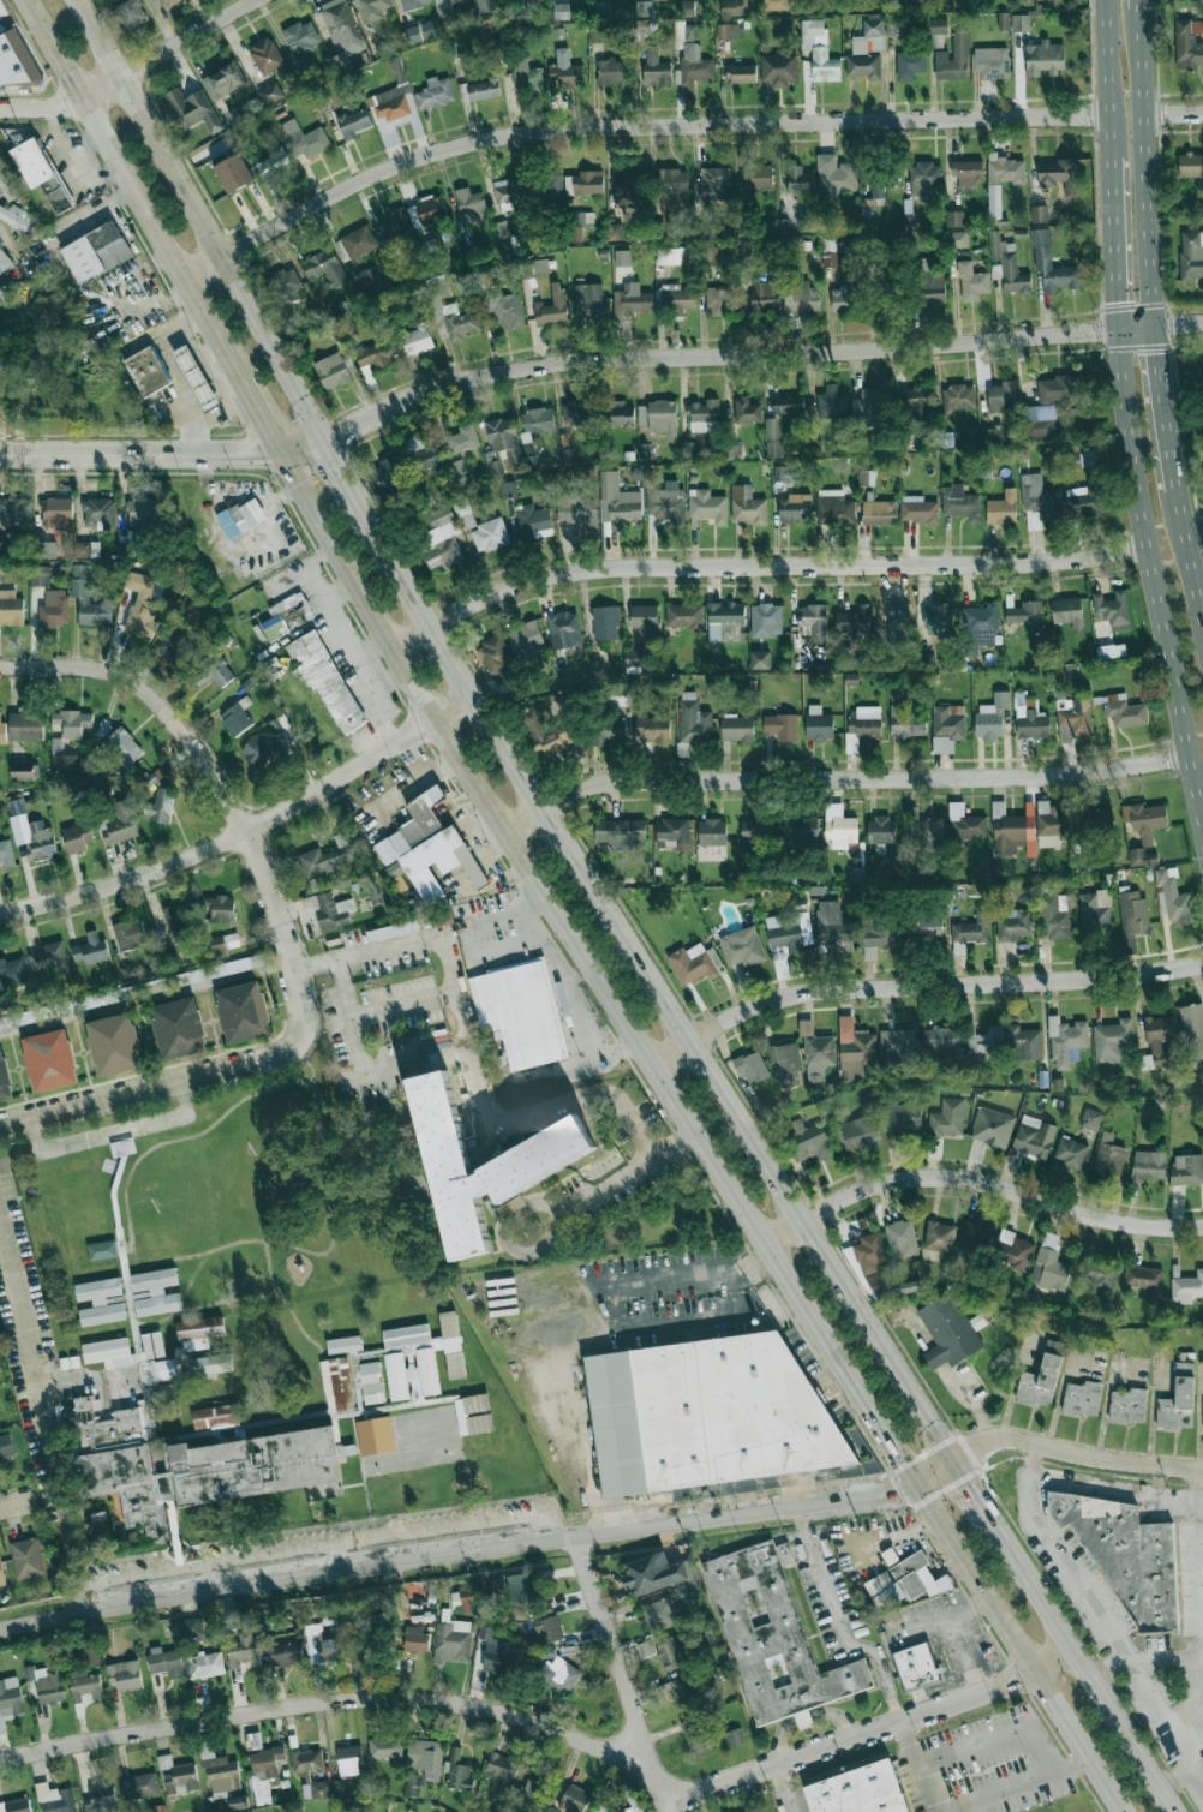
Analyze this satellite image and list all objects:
building: (1036, 0)
building: (454, 1)
building: (168, 2)
building: (414, 4)
building: (774, 5)
building: (732, 6)
building: (687, 7)
building: (372, 8)
building: (645, 8)
building: (562, 11)
building: (131, 12)
building: (484, 12)
building: (1004, 20)
building: (1021, 23)
building: (341, 24)
building: (938, 26)
building: (430, 29)
building: (728, 31)
building: (690, 32)
building: (413, 34)
building: (595, 34)
building: (301, 37)
building: (1189, 44)
building: (819, 50)
building: (867, 50)
building: (267, 55)
building: (953, 59)
building: (1043, 59)
building: (14, 60)
building: (341, 61)
building: (992, 61)
building: (695, 64)
building: (910, 65)
road: (133, 68)
building: (564, 68)
building: (656, 68)
building: (779, 68)
building: (611, 71)
building: (741, 73)
road: (1108, 77)
building: (528, 79)
building: (223, 80)
building: (483, 89)
building: (270, 92)
building: (435, 94)
road: (1126, 94)
building: (395, 101)
building: (193, 109)
road: (1173, 113)
building: (353, 122)
road: (629, 126)
road: (1127, 137)
building: (304, 139)
road: (70, 145)
road: (1145, 162)
building: (1191, 166)
building: (269, 167)
building: (40, 171)
building: (234, 173)
building: (968, 173)
building: (834, 175)
building: (1058, 175)
building: (758, 177)
building: (924, 178)
building: (800, 179)
building: (1001, 179)
building: (672, 180)
building: (714, 184)
building: (551, 185)
building: (6, 187)
road: (134, 189)
building: (508, 189)
building: (628, 189)
building: (878, 190)
building: (469, 204)
building: (869, 204)
building: (431, 209)
road: (92, 211)
building: (1039, 214)
building: (14, 215)
road: (200, 217)
building: (954, 219)
building: (395, 223)
building: (783, 226)
building: (616, 231)
building: (958, 239)
building: (358, 241)
road: (1114, 241)
road: (5, 244)
building: (95, 251)
building: (1191, 255)
building: (671, 256)
building: (710, 256)
building: (622, 257)
building: (831, 257)
building: (4, 259)
building: (1052, 264)
building: (1009, 265)
building: (325, 268)
building: (532, 268)
building: (367, 280)
building: (972, 282)
building: (286, 285)
building: (933, 288)
building: (886, 293)
building: (4, 294)
building: (765, 297)
building: (802, 298)
building: (846, 298)
building: (678, 299)
building: (592, 300)
building: (633, 300)
building: (726, 300)
building: (552, 305)
building: (53, 311)
building: (507, 311)
building: (450, 312)
traffic signals: (1154, 325)
traffic signals: (1118, 329)
building: (418, 339)
building: (375, 353)
road: (756, 353)
building: (333, 370)
building: (146, 371)
building: (197, 377)
building: (1057, 388)
building: (1001, 395)
building: (959, 397)
building: (832, 402)
building: (917, 403)
building: (789, 405)
building: (869, 406)
building: (746, 409)
building: (577, 411)
road: (261, 414)
building: (617, 414)
building: (704, 415)
building: (663, 418)
building: (538, 419)
building: (1041, 419)
road: (1163, 419)
traffic signals: (323, 436)
building: (773, 437)
building: (462, 438)
building: (504, 438)
building: (527, 443)
building: (692, 444)
traffic signals: (281, 450)
building: (732, 451)
road: (162, 456)
building: (1078, 459)
building: (406, 465)
building: (788, 473)
road: (349, 483)
building: (508, 489)
building: (1081, 501)
building: (617, 502)
building: (1040, 502)
building: (668, 503)
building: (962, 503)
building: (707, 506)
building: (747, 506)
building: (794, 508)
building: (836, 508)
building: (1003, 508)
building: (918, 509)
building: (142, 510)
building: (16, 512)
building: (56, 512)
building: (880, 512)
building: (98, 513)
building: (463, 513)
building: (577, 513)
building: (241, 518)
building: (533, 521)
road: (1163, 525)
building: (489, 534)
building: (442, 538)
road: (1193, 539)
building: (86, 549)
building: (46, 550)
road: (1171, 563)
road: (761, 567)
road: (1190, 569)
building: (38, 574)
road: (1154, 576)
building: (88, 598)
building: (140, 604)
building: (10, 608)
building: (54, 608)
building: (1113, 610)
building: (1067, 612)
building: (1027, 614)
building: (286, 615)
building: (686, 616)
building: (897, 618)
building: (766, 620)
building: (854, 620)
building: (939, 620)
building: (644, 621)
building: (725, 621)
building: (815, 621)
building: (605, 622)
building: (978, 627)
building: (563, 629)
building: (526, 639)
building: (174, 645)
building: (1111, 651)
building: (495, 653)
building: (760, 659)
building: (927, 659)
building: (215, 672)
building: (325, 678)
building: (1124, 711)
building: (237, 717)
building: (992, 717)
building: (1073, 718)
building: (72, 722)
building: (692, 722)
building: (866, 723)
building: (1033, 723)
building: (818, 724)
building: (908, 724)
building: (24, 725)
building: (782, 726)
building: (947, 726)
building: (737, 728)
building: (282, 729)
building: (653, 729)
building: (606, 730)
building: (545, 731)
building: (2, 732)
road: (1193, 735)
building: (121, 747)
building: (258, 750)
road: (196, 755)
building: (62, 757)
building: (22, 770)
road: (1197, 772)
road: (840, 779)
building: (160, 805)
building: (1102, 818)
building: (1145, 819)
building: (965, 821)
building: (119, 824)
building: (1051, 824)
building: (839, 826)
building: (801, 830)
building: (881, 830)
building: (672, 831)
building: (30, 832)
road: (249, 832)
building: (622, 832)
building: (712, 832)
building: (758, 832)
building: (924, 833)
building: (77, 836)
building: (424, 843)
building: (6, 854)
building: (329, 856)
building: (1141, 857)
building: (1174, 896)
building: (311, 903)
building: (220, 908)
building: (1094, 910)
building: (333, 911)
building: (1133, 911)
building: (1054, 916)
building: (174, 923)
building: (833, 925)
building: (1015, 925)
building: (926, 927)
building: (790, 931)
building: (970, 931)
building: (128, 933)
building: (876, 935)
road: (425, 937)
building: (223, 944)
building: (742, 946)
building: (91, 947)
building: (50, 957)
building: (695, 963)
building: (231, 967)
building: (12, 970)
road: (579, 976)
road: (565, 983)
road: (920, 983)
road: (660, 997)
road: (144, 998)
road: (405, 1004)
building: (243, 1012)
building: (521, 1012)
building: (179, 1028)
building: (1192, 1029)
building: (941, 1039)
building: (1066, 1041)
building: (1113, 1041)
building: (1157, 1041)
building: (986, 1042)
building: (1024, 1042)
building: (114, 1043)
building: (898, 1043)
building: (855, 1048)
building: (818, 1054)
building: (49, 1059)
road: (309, 1063)
building: (786, 1063)
building: (752, 1066)
road: (363, 1070)
building: (4, 1078)
road: (188, 1078)
building: (1042, 1078)
building: (903, 1114)
road: (547, 1116)
building: (948, 1119)
building: (1091, 1119)
building: (993, 1128)
building: (860, 1132)
road: (112, 1134)
road: (695, 1135)
building: (1034, 1136)
building: (810, 1141)
building: (1071, 1153)
building: (1109, 1158)
building: (480, 1165)
building: (1149, 1165)
building: (1187, 1170)
road: (978, 1182)
road: (555, 1212)
building: (975, 1233)
building: (941, 1237)
building: (902, 1238)
road: (246, 1239)
building: (101, 1249)
building: (1013, 1250)
building: (1051, 1264)
building: (872, 1266)
building: (1100, 1275)
building: (1145, 1281)
building: (155, 1291)
building: (100, 1302)
road: (207, 1304)
road: (612, 1304)
road: (285, 1305)
building: (950, 1330)
building: (199, 1332)
building: (134, 1354)
building: (418, 1356)
road: (938, 1361)
building: (208, 1365)
building: (455, 1365)
road: (88, 1377)
building: (1041, 1377)
building: (1082, 1398)
building: (1178, 1400)
building: (1127, 1405)
building: (706, 1410)
road: (41, 1413)
building: (473, 1413)
building: (216, 1417)
road: (581, 1431)
building: (375, 1435)
road: (1053, 1448)
building: (5, 1449)
traffic signals: (953, 1460)
building: (198, 1463)
road: (1156, 1482)
traffic signals: (917, 1483)
road: (1115, 1490)
road: (978, 1497)
road: (17, 1501)
road: (1198, 1533)
road: (459, 1553)
building: (1127, 1554)
road: (1059, 1557)
building: (26, 1559)
building: (657, 1573)
building: (1, 1574)
building: (905, 1581)
building: (521, 1589)
building: (465, 1599)
road: (938, 1613)
building: (660, 1614)
building: (234, 1619)
road: (838, 1623)
building: (192, 1628)
building: (546, 1632)
building: (772, 1633)
building: (415, 1638)
building: (451, 1640)
building: (365, 1645)
building: (321, 1649)
building: (646, 1649)
building: (243, 1650)
road: (965, 1650)
building: (674, 1651)
building: (287, 1653)
building: (497, 1653)
road: (1145, 1659)
building: (166, 1662)
building: (915, 1662)
building: (205, 1664)
road: (622, 1668)
road: (1091, 1673)
road: (948, 1674)
building: (125, 1675)
building: (559, 1675)
building: (48, 1684)
building: (85, 1685)
building: (682, 1693)
building: (10, 1699)
road: (333, 1706)
road: (1191, 1715)
road: (874, 1729)
road: (1171, 1732)
road: (996, 1735)
building: (698, 1736)
building: (735, 1736)
road: (624, 1739)
building: (385, 1747)
building: (425, 1758)
building: (306, 1759)
building: (349, 1760)
building: (501, 1766)
road: (920, 1766)
building: (264, 1771)
building: (457, 1772)
building: (220, 1774)
building: (178, 1775)
road: (1198, 1783)
road: (1018, 1784)
building: (139, 1786)
building: (411, 1786)
building: (538, 1786)
road: (780, 1788)
building: (316, 1789)
building: (857, 1789)
building: (101, 1798)
building: (55, 1799)
building: (574, 1799)
building: (635, 1802)
building: (16, 1805)
road: (671, 1806)
building: (549, 1811)
building: (604, 1811)
building: (747, 1811)

